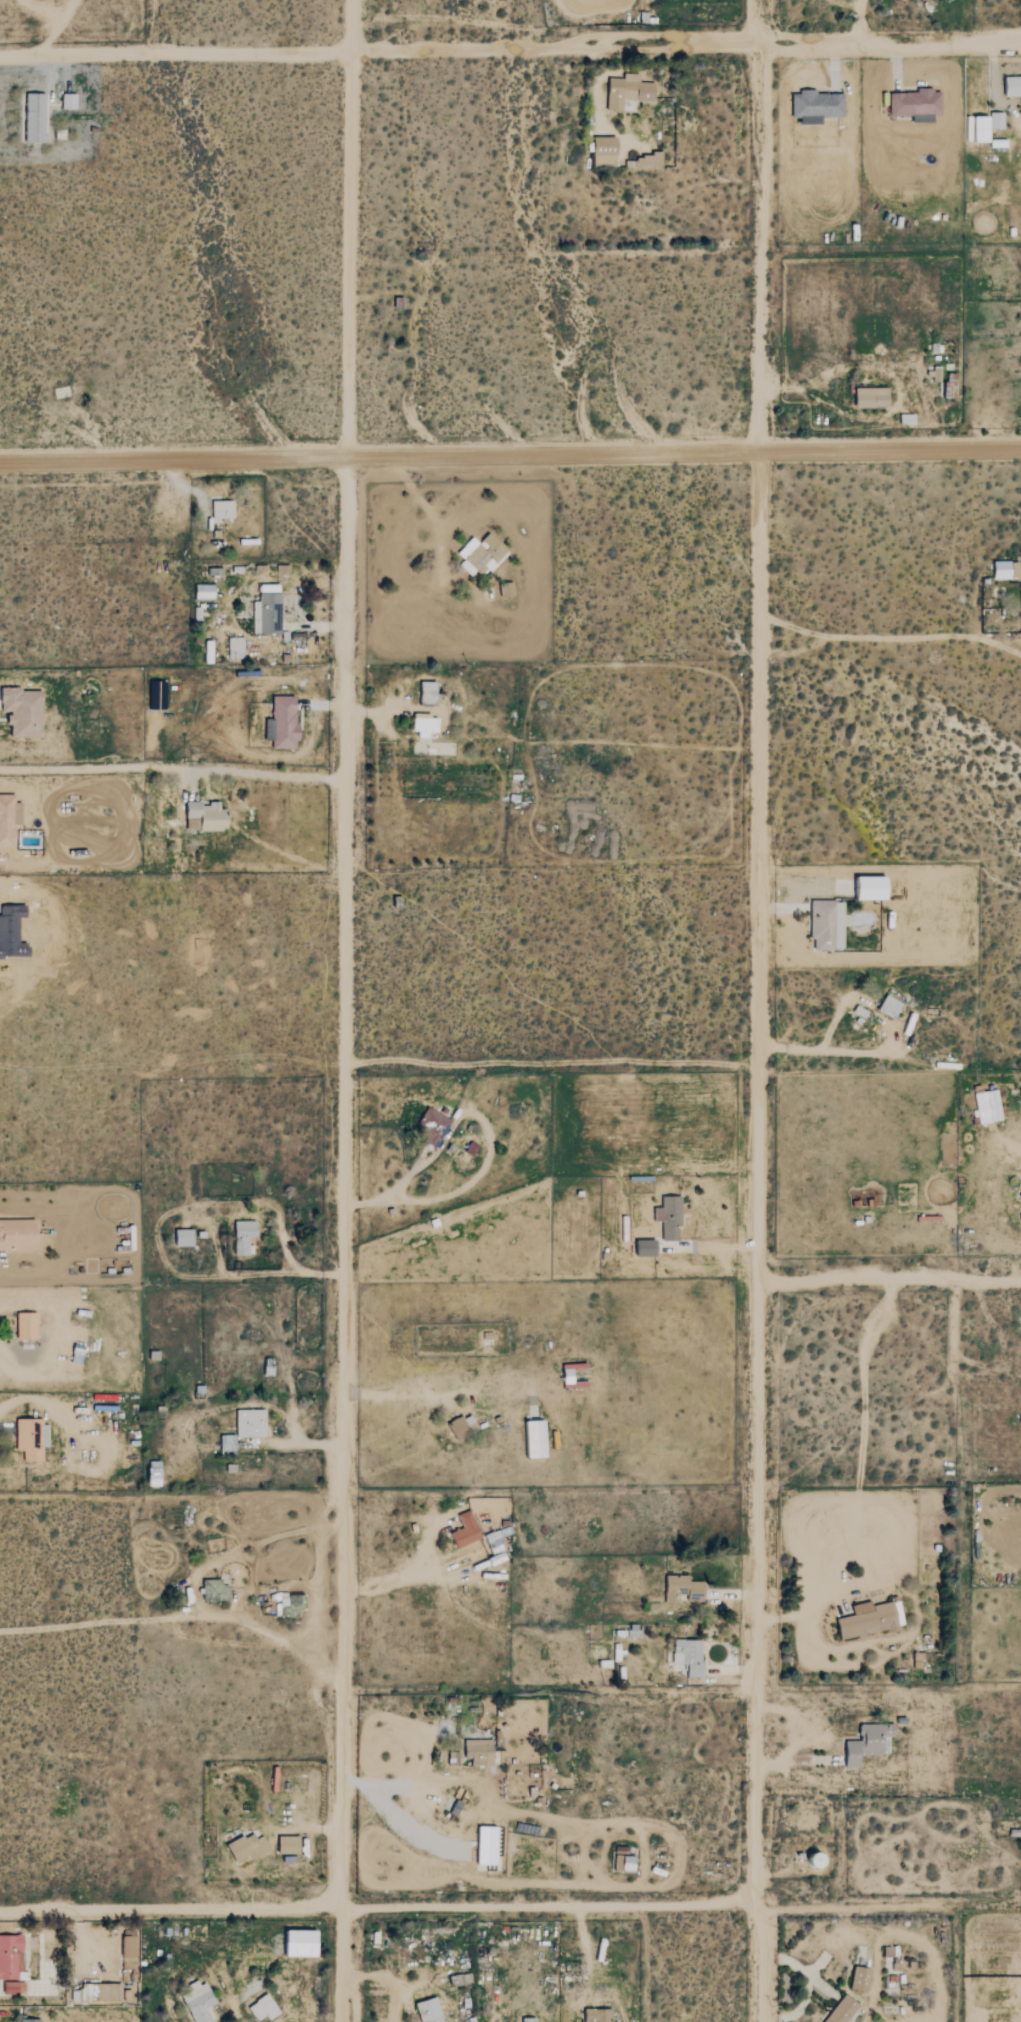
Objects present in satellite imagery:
road: (510, 54)
building: (624, 91)
building: (66, 101)
building: (914, 105)
building: (32, 118)
building: (994, 121)
building: (974, 129)
building: (601, 152)
building: (646, 160)
building: (868, 398)
road: (510, 458)
road: (424, 506)
building: (219, 508)
building: (478, 554)
building: (1002, 569)
building: (504, 590)
building: (201, 591)
building: (264, 613)
building: (233, 647)
building: (205, 651)
building: (425, 692)
road: (384, 708)
building: (20, 711)
building: (279, 722)
building: (422, 726)
road: (175, 767)
building: (203, 815)
building: (7, 818)
building: (865, 887)
building: (824, 924)
building: (887, 1006)
road: (764, 1010)
road: (348, 1011)
road: (837, 1051)
building: (985, 1106)
building: (430, 1127)
road: (489, 1150)
building: (1020, 1194)
building: (667, 1217)
building: (15, 1234)
building: (240, 1236)
building: (181, 1237)
building: (642, 1247)
road: (714, 1247)
road: (260, 1274)
road: (891, 1285)
building: (23, 1326)
road: (395, 1392)
building: (248, 1423)
building: (459, 1427)
building: (531, 1439)
road: (298, 1442)
building: (224, 1443)
building: (150, 1473)
road: (333, 1527)
building: (463, 1531)
road: (395, 1570)
road: (192, 1582)
building: (680, 1590)
building: (212, 1591)
road: (316, 1591)
road: (819, 1600)
building: (288, 1604)
building: (866, 1622)
building: (686, 1656)
building: (865, 1743)
road: (421, 1752)
building: (476, 1752)
road: (300, 1829)
building: (285, 1845)
building: (482, 1846)
building: (244, 1847)
building: (809, 1860)
road: (891, 1908)
road: (381, 1910)
building: (295, 1944)
building: (127, 1952)
road: (586, 1955)
building: (10, 1957)
road: (389, 1979)
building: (857, 1979)
building: (12, 1988)
building: (110, 1993)
building: (196, 2002)
building: (260, 2008)
road: (288, 2008)
building: (839, 2010)
building: (426, 2011)
building: (595, 2015)
building: (27, 2020)
building: (526, 2020)

